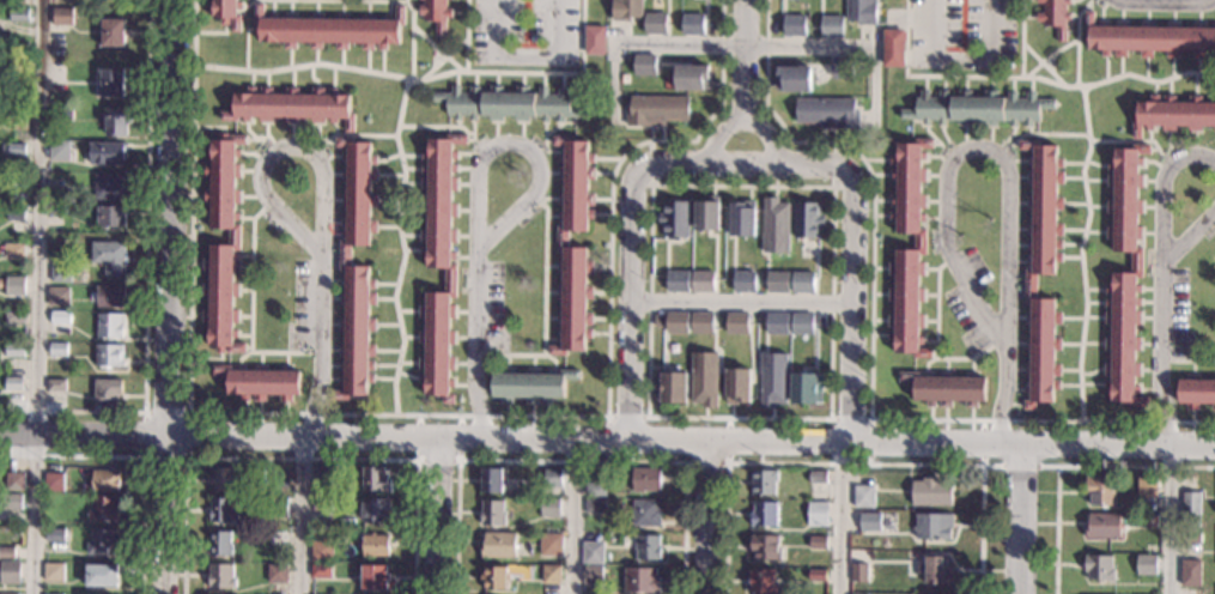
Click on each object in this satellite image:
road: (405, 0)
road: (1161, 1)
road: (248, 2)
road: (406, 2)
building: (626, 10)
building: (862, 12)
building: (226, 13)
building: (435, 14)
building: (18, 16)
building: (61, 16)
building: (1053, 16)
building: (656, 24)
building: (693, 24)
building: (795, 26)
building: (832, 26)
road: (935, 28)
building: (328, 30)
building: (110, 34)
road: (464, 35)
road: (582, 37)
road: (1021, 38)
building: (1149, 40)
building: (594, 41)
road: (1076, 42)
road: (706, 44)
building: (18, 48)
road: (436, 48)
building: (892, 49)
road: (991, 54)
road: (1049, 55)
road: (743, 56)
road: (522, 57)
building: (644, 66)
road: (1045, 66)
road: (431, 68)
building: (840, 68)
road: (387, 74)
building: (692, 78)
building: (792, 80)
building: (110, 83)
road: (1063, 86)
building: (508, 104)
building: (291, 107)
building: (977, 109)
building: (656, 110)
building: (827, 113)
building: (62, 115)
building: (1173, 115)
building: (16, 119)
building: (115, 123)
road: (439, 126)
road: (769, 133)
road: (1039, 133)
road: (350, 134)
road: (719, 135)
road: (1134, 141)
road: (518, 147)
road: (281, 148)
road: (971, 148)
building: (12, 150)
building: (57, 152)
building: (105, 153)
road: (650, 163)
road: (748, 164)
road: (833, 164)
building: (14, 182)
building: (109, 187)
building: (55, 208)
road: (1214, 210)
building: (706, 216)
building: (13, 217)
building: (110, 217)
building: (674, 219)
building: (741, 220)
building: (804, 220)
building: (774, 226)
road: (1161, 228)
building: (563, 240)
building: (918, 242)
building: (221, 244)
road: (401, 246)
building: (12, 250)
road: (1081, 253)
building: (108, 256)
building: (438, 263)
building: (356, 271)
building: (1043, 271)
building: (59, 275)
road: (145, 277)
building: (1124, 277)
building: (676, 281)
building: (743, 281)
building: (701, 283)
building: (777, 283)
building: (803, 283)
building: (13, 287)
road: (34, 296)
building: (108, 297)
road: (166, 297)
building: (57, 298)
road: (742, 303)
road: (542, 305)
road: (628, 305)
road: (249, 308)
road: (855, 311)
building: (12, 319)
building: (57, 323)
building: (676, 323)
building: (700, 323)
building: (736, 325)
building: (776, 325)
building: (801, 325)
building: (109, 327)
road: (936, 338)
road: (472, 345)
road: (320, 346)
road: (870, 347)
building: (56, 350)
building: (13, 351)
road: (1159, 354)
building: (107, 357)
road: (1186, 360)
building: (704, 380)
building: (772, 380)
building: (261, 382)
building: (12, 384)
building: (529, 384)
building: (55, 386)
building: (737, 387)
building: (670, 388)
building: (803, 389)
building: (944, 389)
building: (1196, 392)
building: (105, 393)
road: (1006, 399)
road: (436, 414)
road: (646, 418)
road: (607, 419)
road: (870, 420)
road: (607, 438)
road: (140, 455)
road: (142, 456)
road: (299, 456)
road: (437, 459)
road: (569, 460)
road: (728, 461)
road: (853, 463)
road: (998, 463)
road: (1071, 466)
building: (320, 477)
building: (553, 477)
building: (818, 477)
building: (104, 478)
building: (226, 479)
building: (278, 479)
building: (375, 479)
building: (13, 480)
building: (492, 480)
building: (645, 480)
building: (53, 481)
building: (763, 481)
building: (1146, 486)
building: (595, 490)
building: (1100, 491)
building: (931, 492)
building: (862, 497)
building: (11, 501)
building: (321, 504)
building: (595, 505)
building: (277, 508)
building: (549, 508)
building: (102, 509)
building: (219, 510)
building: (373, 510)
building: (1191, 510)
road: (302, 514)
building: (491, 514)
building: (645, 514)
building: (761, 514)
building: (816, 514)
road: (437, 515)
road: (571, 516)
road: (706, 516)
road: (838, 517)
road: (1019, 519)
road: (1167, 519)
building: (1147, 521)
building: (869, 522)
building: (1102, 526)
building: (932, 527)
building: (55, 534)
building: (1191, 537)
building: (277, 538)
building: (102, 543)
building: (816, 543)
building: (218, 545)
building: (375, 545)
building: (549, 545)
building: (498, 546)
building: (646, 547)
building: (765, 547)
building: (321, 550)
building: (5, 552)
building: (593, 552)
building: (1147, 565)
building: (1099, 568)
building: (8, 571)
building: (53, 571)
building: (320, 571)
building: (937, 571)
building: (1190, 572)
building: (277, 574)
building: (858, 574)
building: (101, 575)
building: (551, 575)
building: (591, 575)
building: (815, 575)
building: (220, 577)
building: (373, 577)
building: (494, 578)
building: (640, 581)
building: (761, 582)
building: (8, 593)

